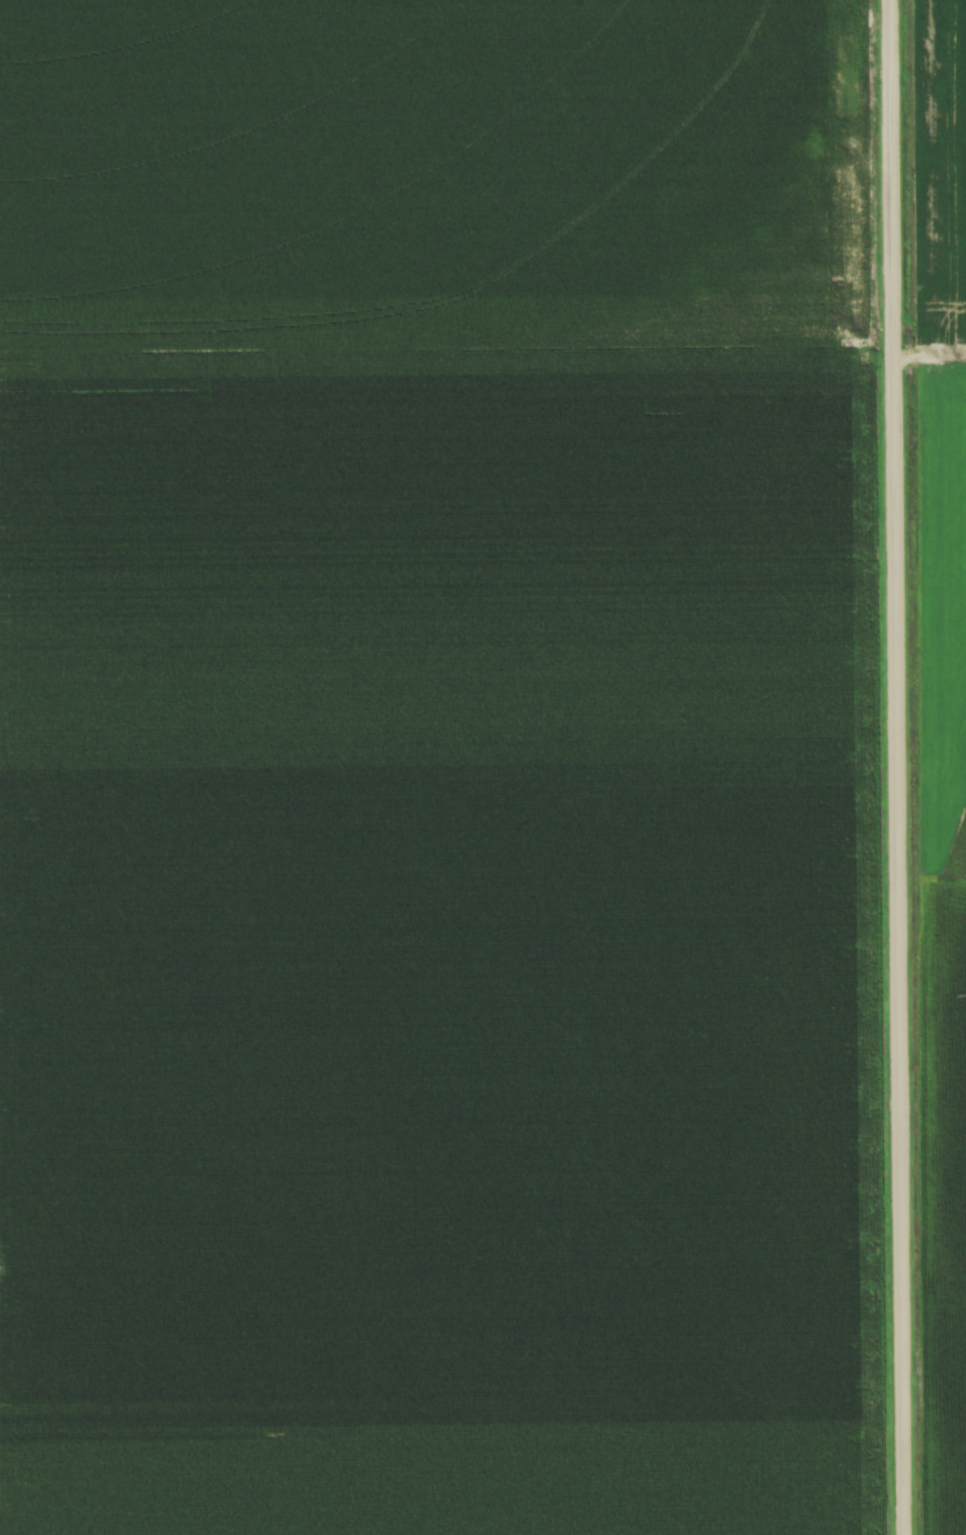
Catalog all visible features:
road: (929, 353)
road: (896, 767)
crop: (432, 772)
crop: (943, 801)

